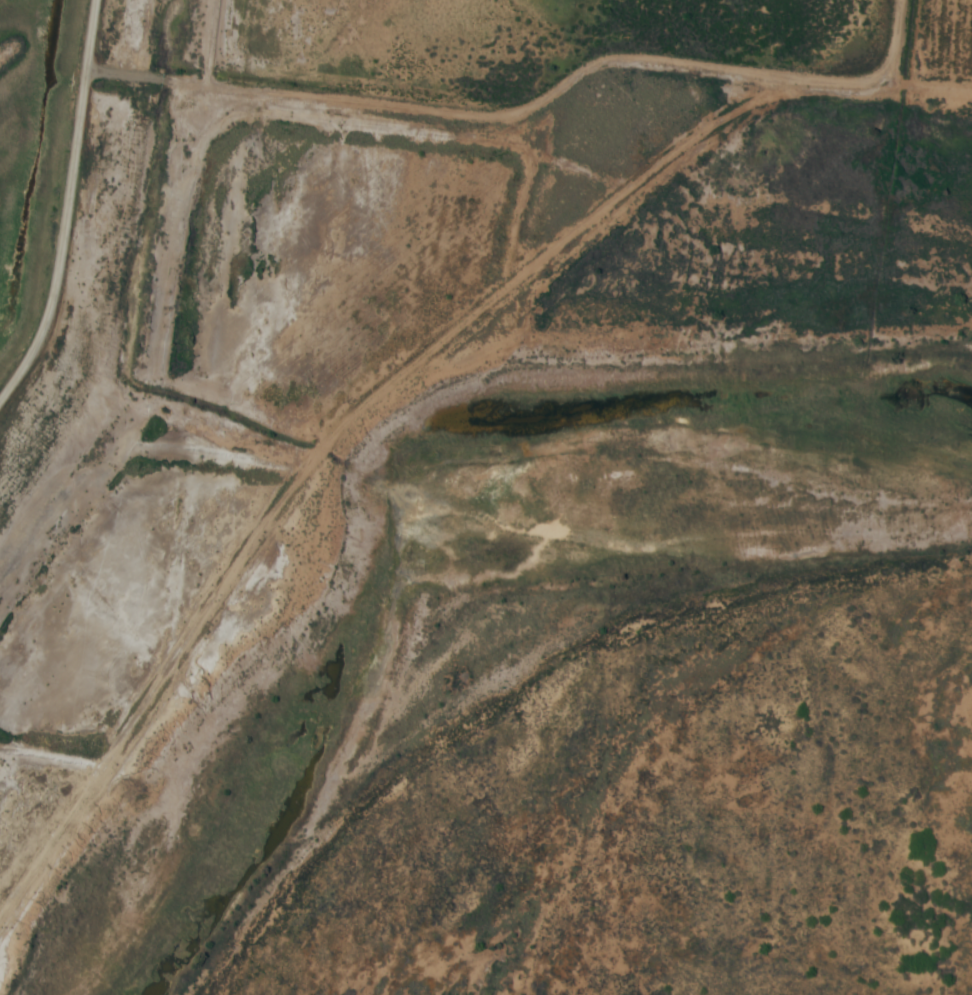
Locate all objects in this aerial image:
road: (68, 207)

